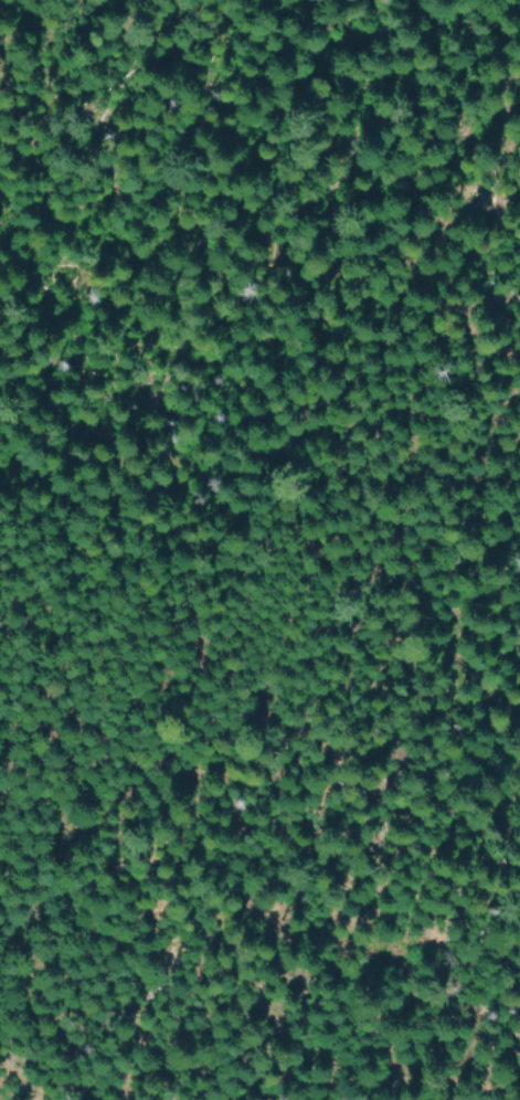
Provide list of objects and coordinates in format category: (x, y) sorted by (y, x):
road: (17, 1083)

